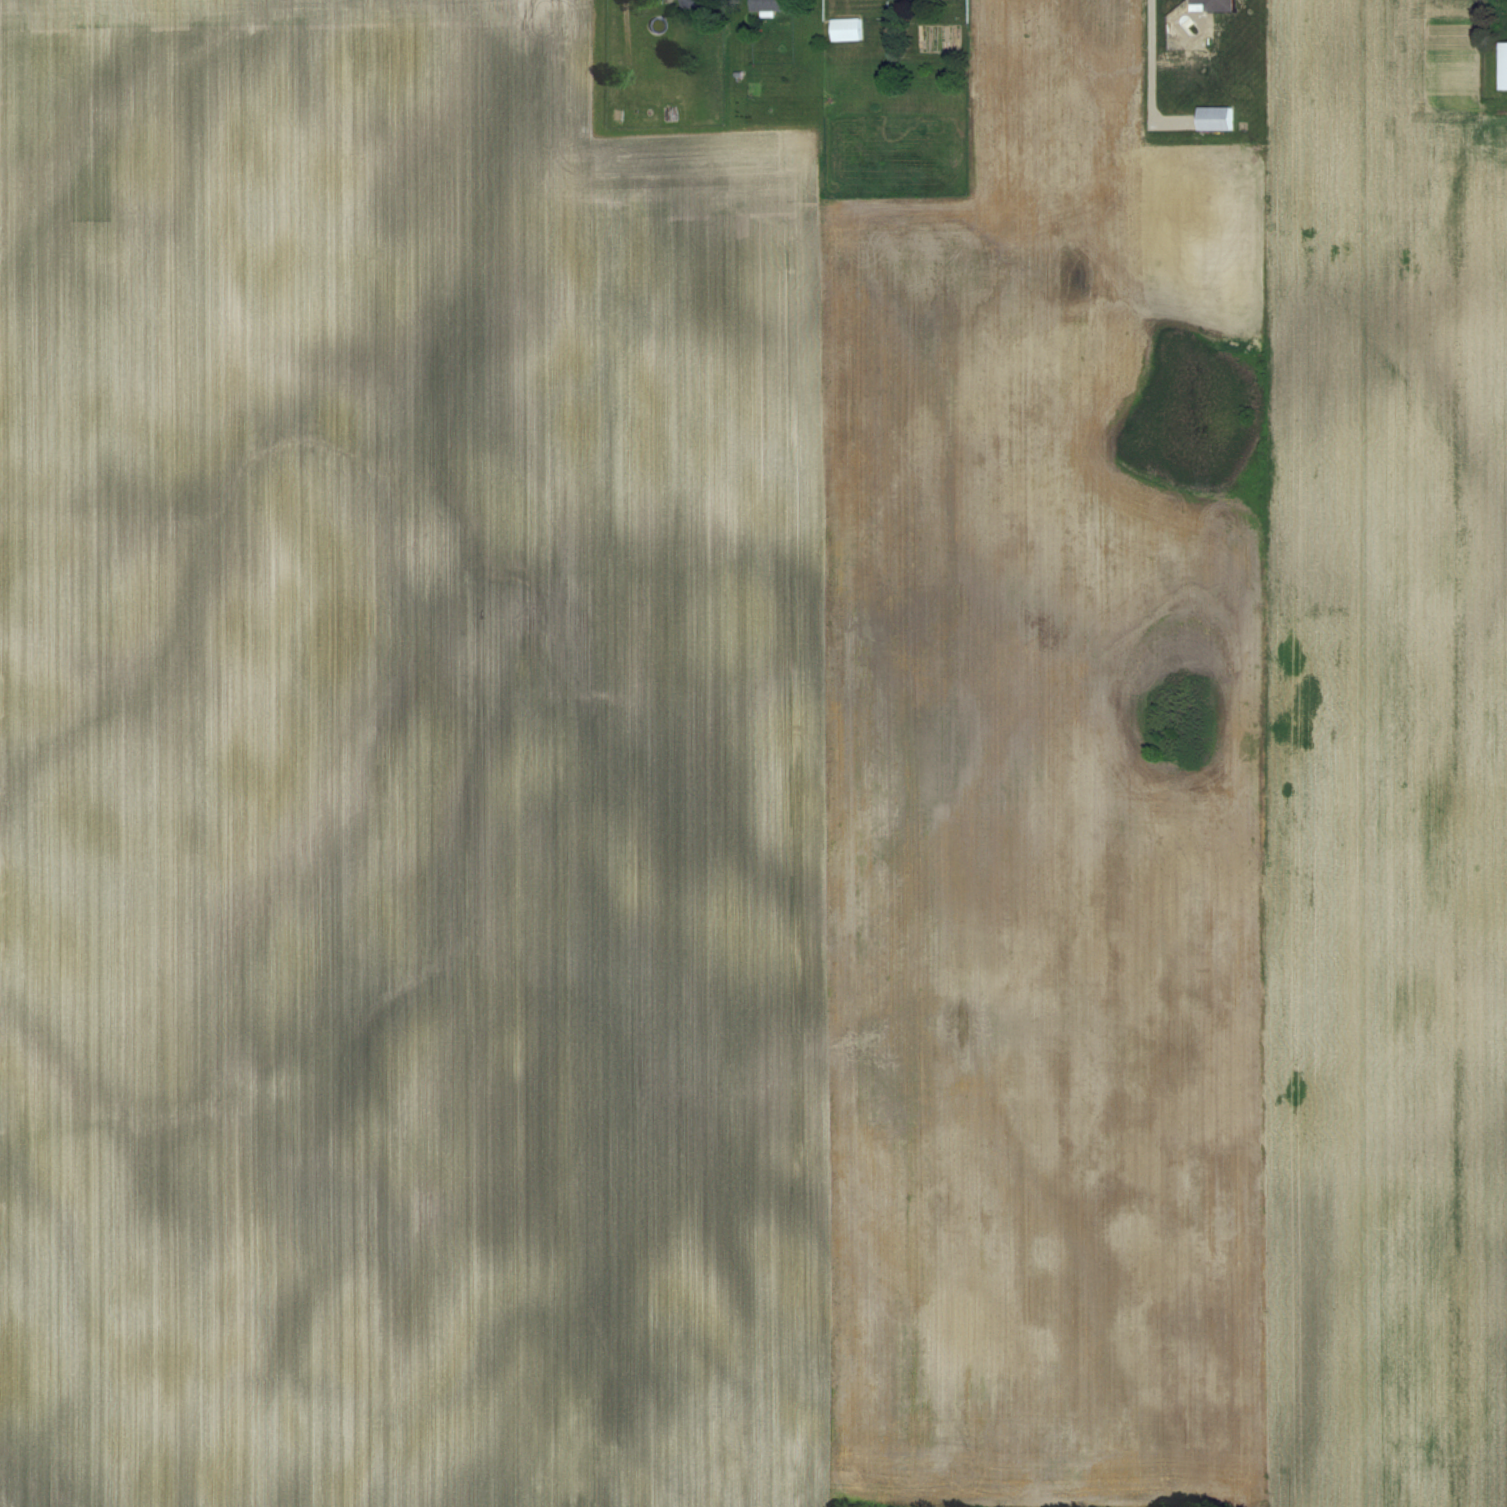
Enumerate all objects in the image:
building: (700, 3)
building: (777, 5)
building: (1215, 5)
building: (853, 30)
building: (1503, 65)
road: (1150, 73)
building: (1219, 119)

